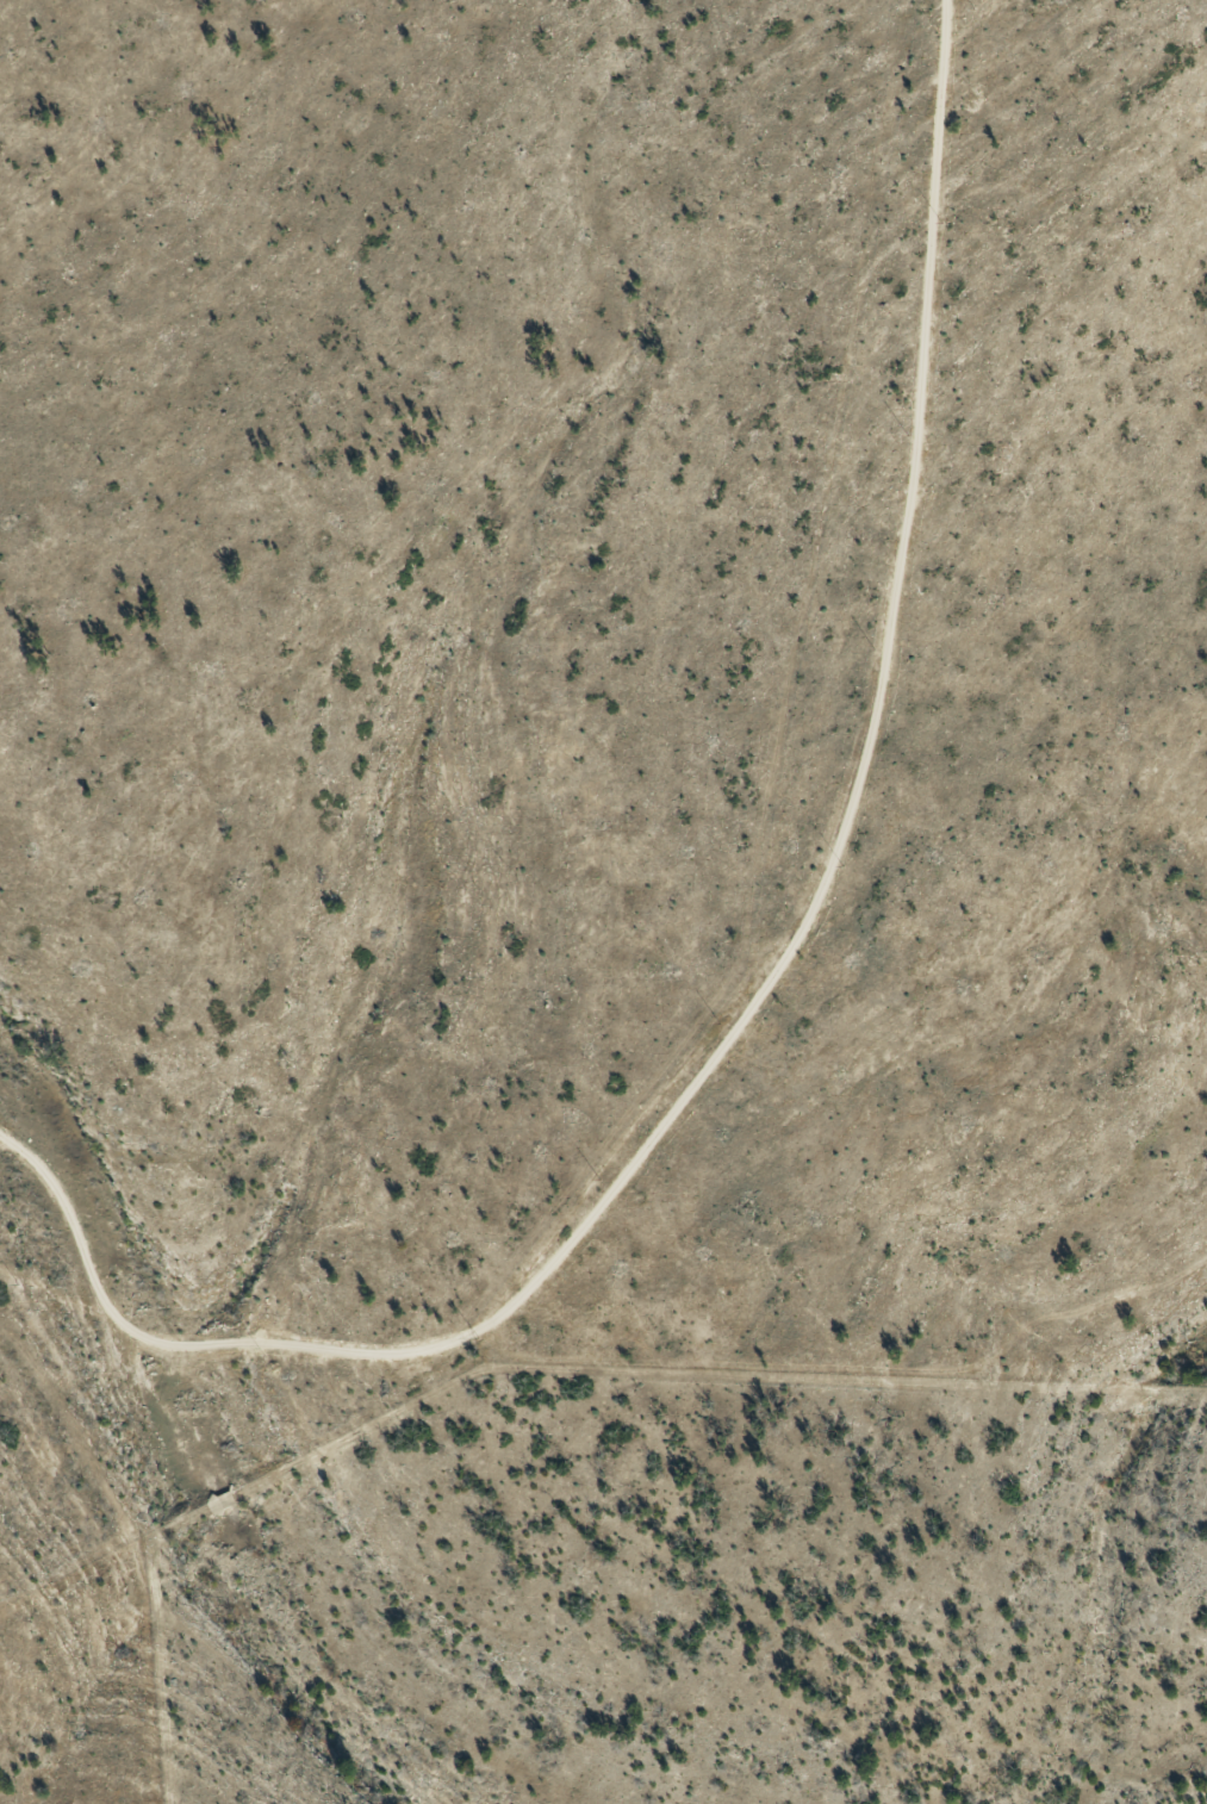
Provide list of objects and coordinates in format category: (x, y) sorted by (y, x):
road: (741, 999)

